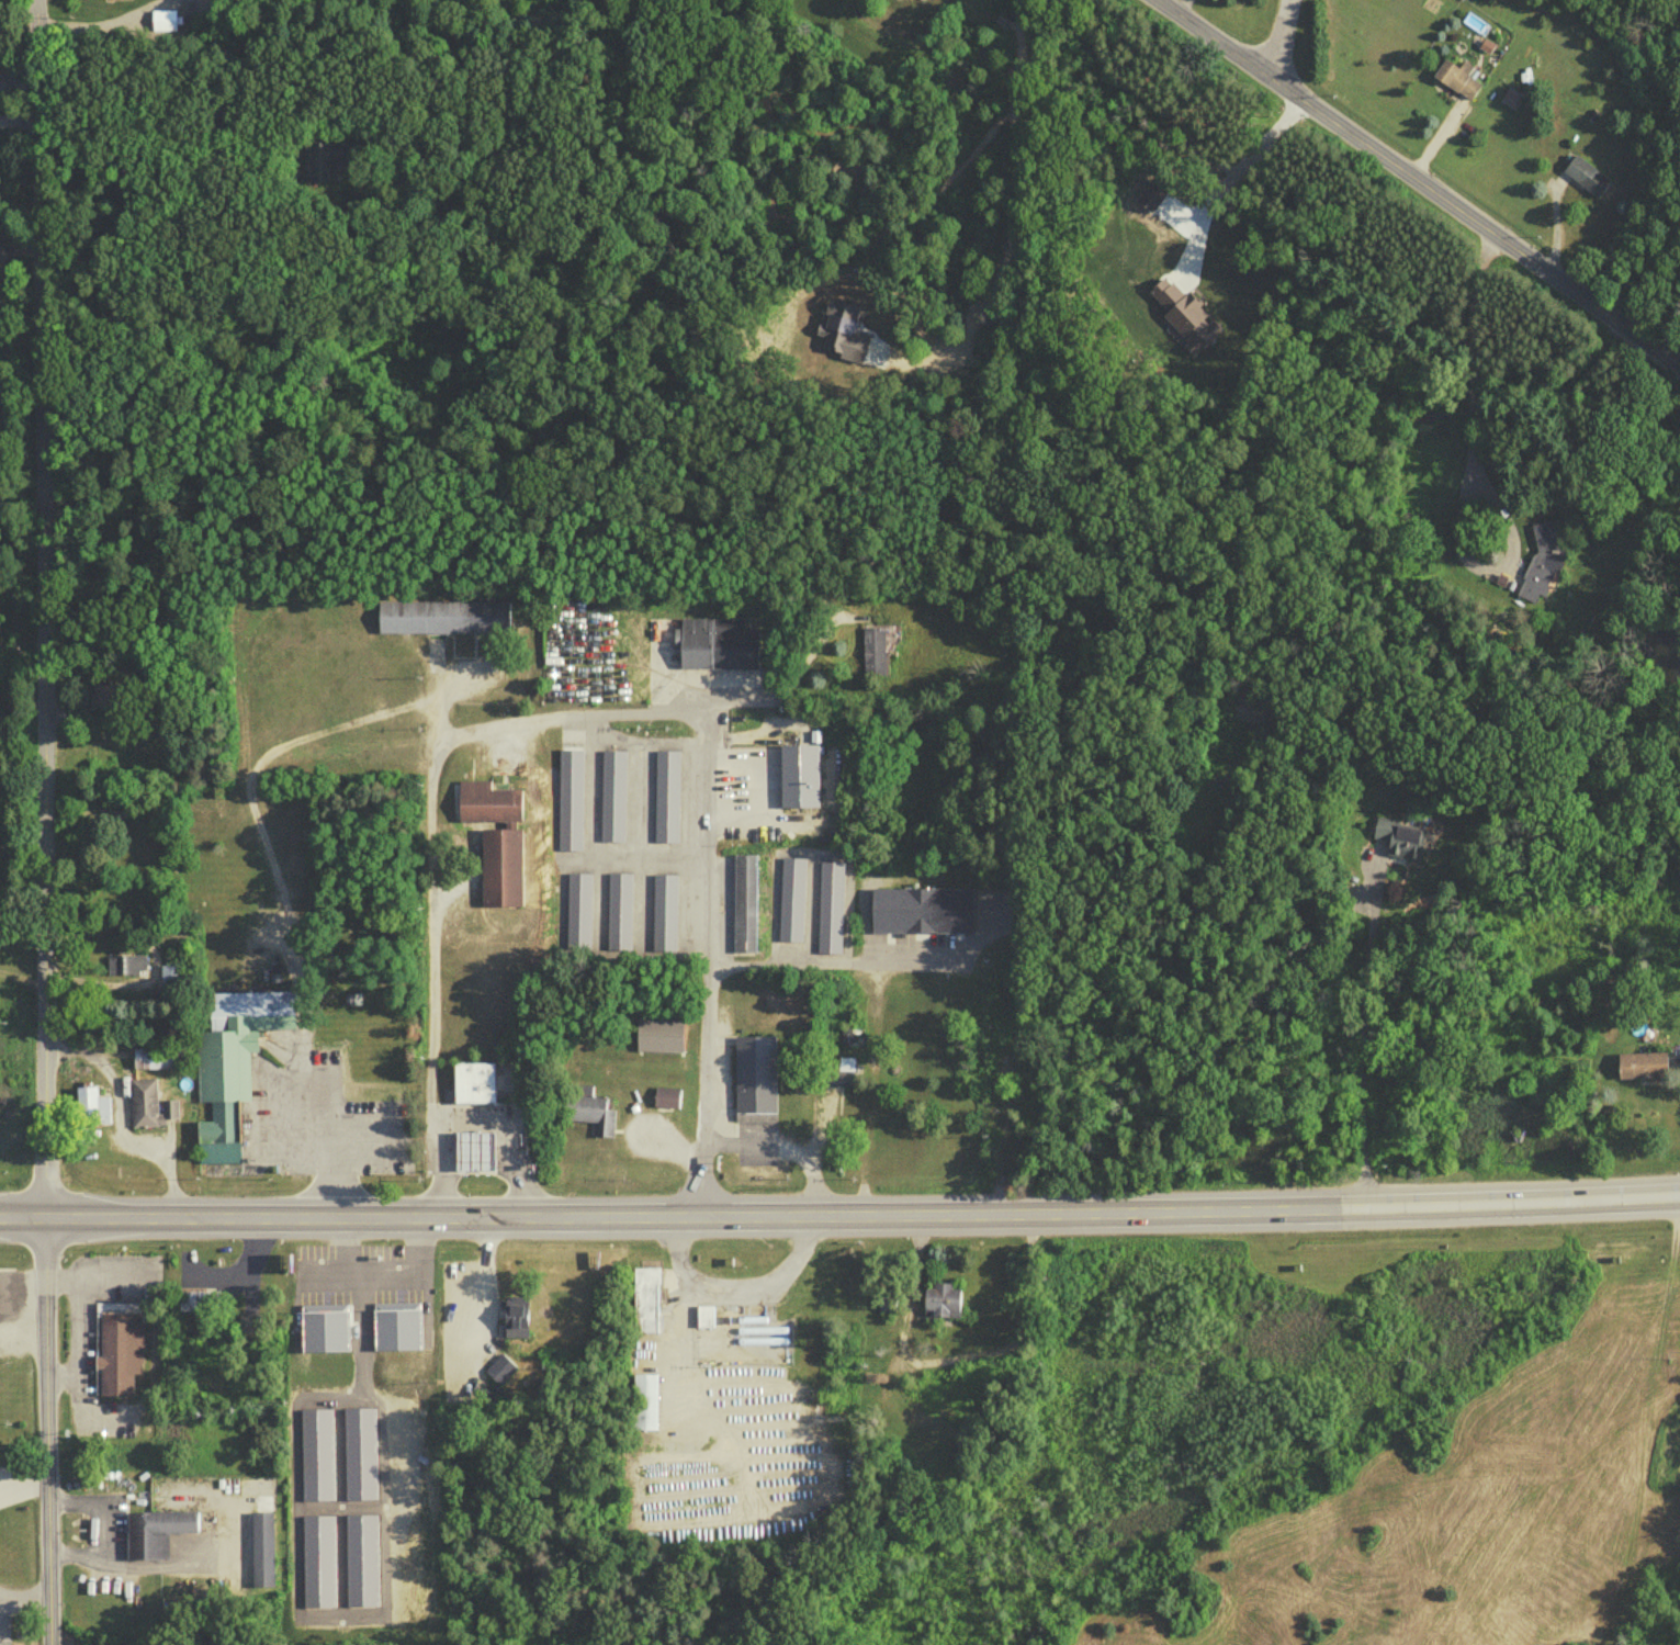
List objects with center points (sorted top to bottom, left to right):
building: (119, 2)
building: (165, 26)
road: (1279, 35)
road: (22, 78)
building: (1457, 83)
building: (328, 161)
road: (1217, 180)
building: (1586, 182)
road: (1421, 183)
road: (1477, 473)
building: (1542, 567)
building: (440, 615)
building: (714, 639)
building: (870, 646)
building: (799, 773)
building: (608, 793)
building: (663, 793)
building: (564, 795)
road: (49, 822)
building: (1401, 834)
building: (497, 836)
road: (427, 844)
building: (789, 895)
building: (743, 900)
building: (828, 905)
building: (937, 908)
building: (616, 910)
building: (573, 911)
building: (662, 912)
road: (799, 955)
building: (121, 960)
building: (126, 971)
building: (168, 977)
road: (710, 978)
road: (1364, 1024)
building: (659, 1032)
building: (855, 1044)
building: (157, 1055)
road: (872, 1056)
building: (233, 1057)
building: (1643, 1062)
building: (754, 1074)
building: (847, 1075)
building: (999, 1078)
building: (473, 1086)
building: (663, 1095)
building: (148, 1101)
building: (90, 1104)
building: (593, 1111)
road: (117, 1125)
road: (369, 1134)
road: (509, 1137)
road: (790, 1150)
road: (330, 1151)
building: (473, 1156)
road: (839, 1220)
road: (115, 1283)
road: (477, 1283)
road: (735, 1286)
building: (646, 1297)
building: (199, 1298)
building: (884, 1300)
building: (940, 1300)
building: (706, 1314)
building: (516, 1319)
building: (461, 1321)
building: (396, 1329)
building: (323, 1330)
road: (80, 1331)
building: (117, 1344)
building: (499, 1366)
building: (647, 1399)
building: (1673, 1449)
building: (358, 1450)
building: (315, 1453)
road: (25, 1485)
road: (99, 1524)
building: (157, 1530)
building: (264, 1546)
building: (318, 1558)
building: (361, 1558)
road: (25, 1592)
road: (1, 1601)
road: (26, 1608)

